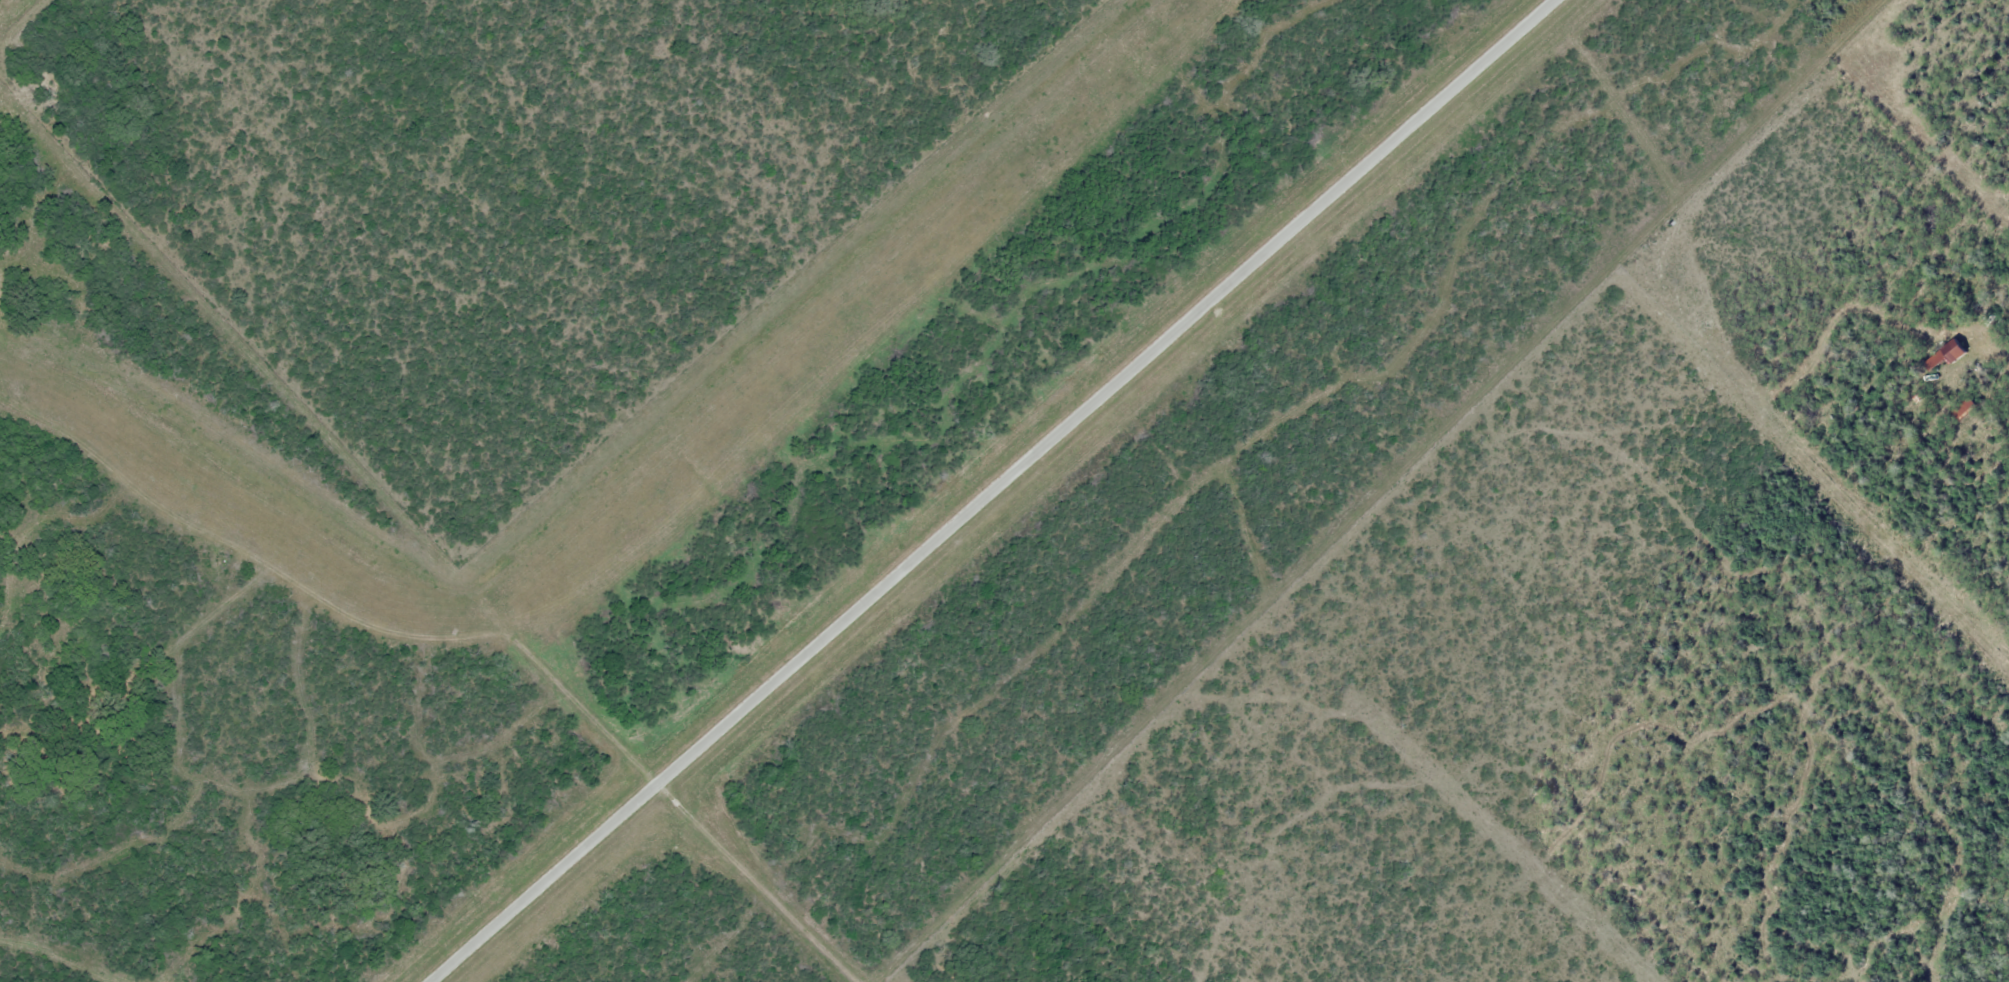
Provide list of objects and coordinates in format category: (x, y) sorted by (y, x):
road: (1995, 342)
building: (1943, 356)
building: (1962, 408)
road: (998, 493)
road: (781, 906)

